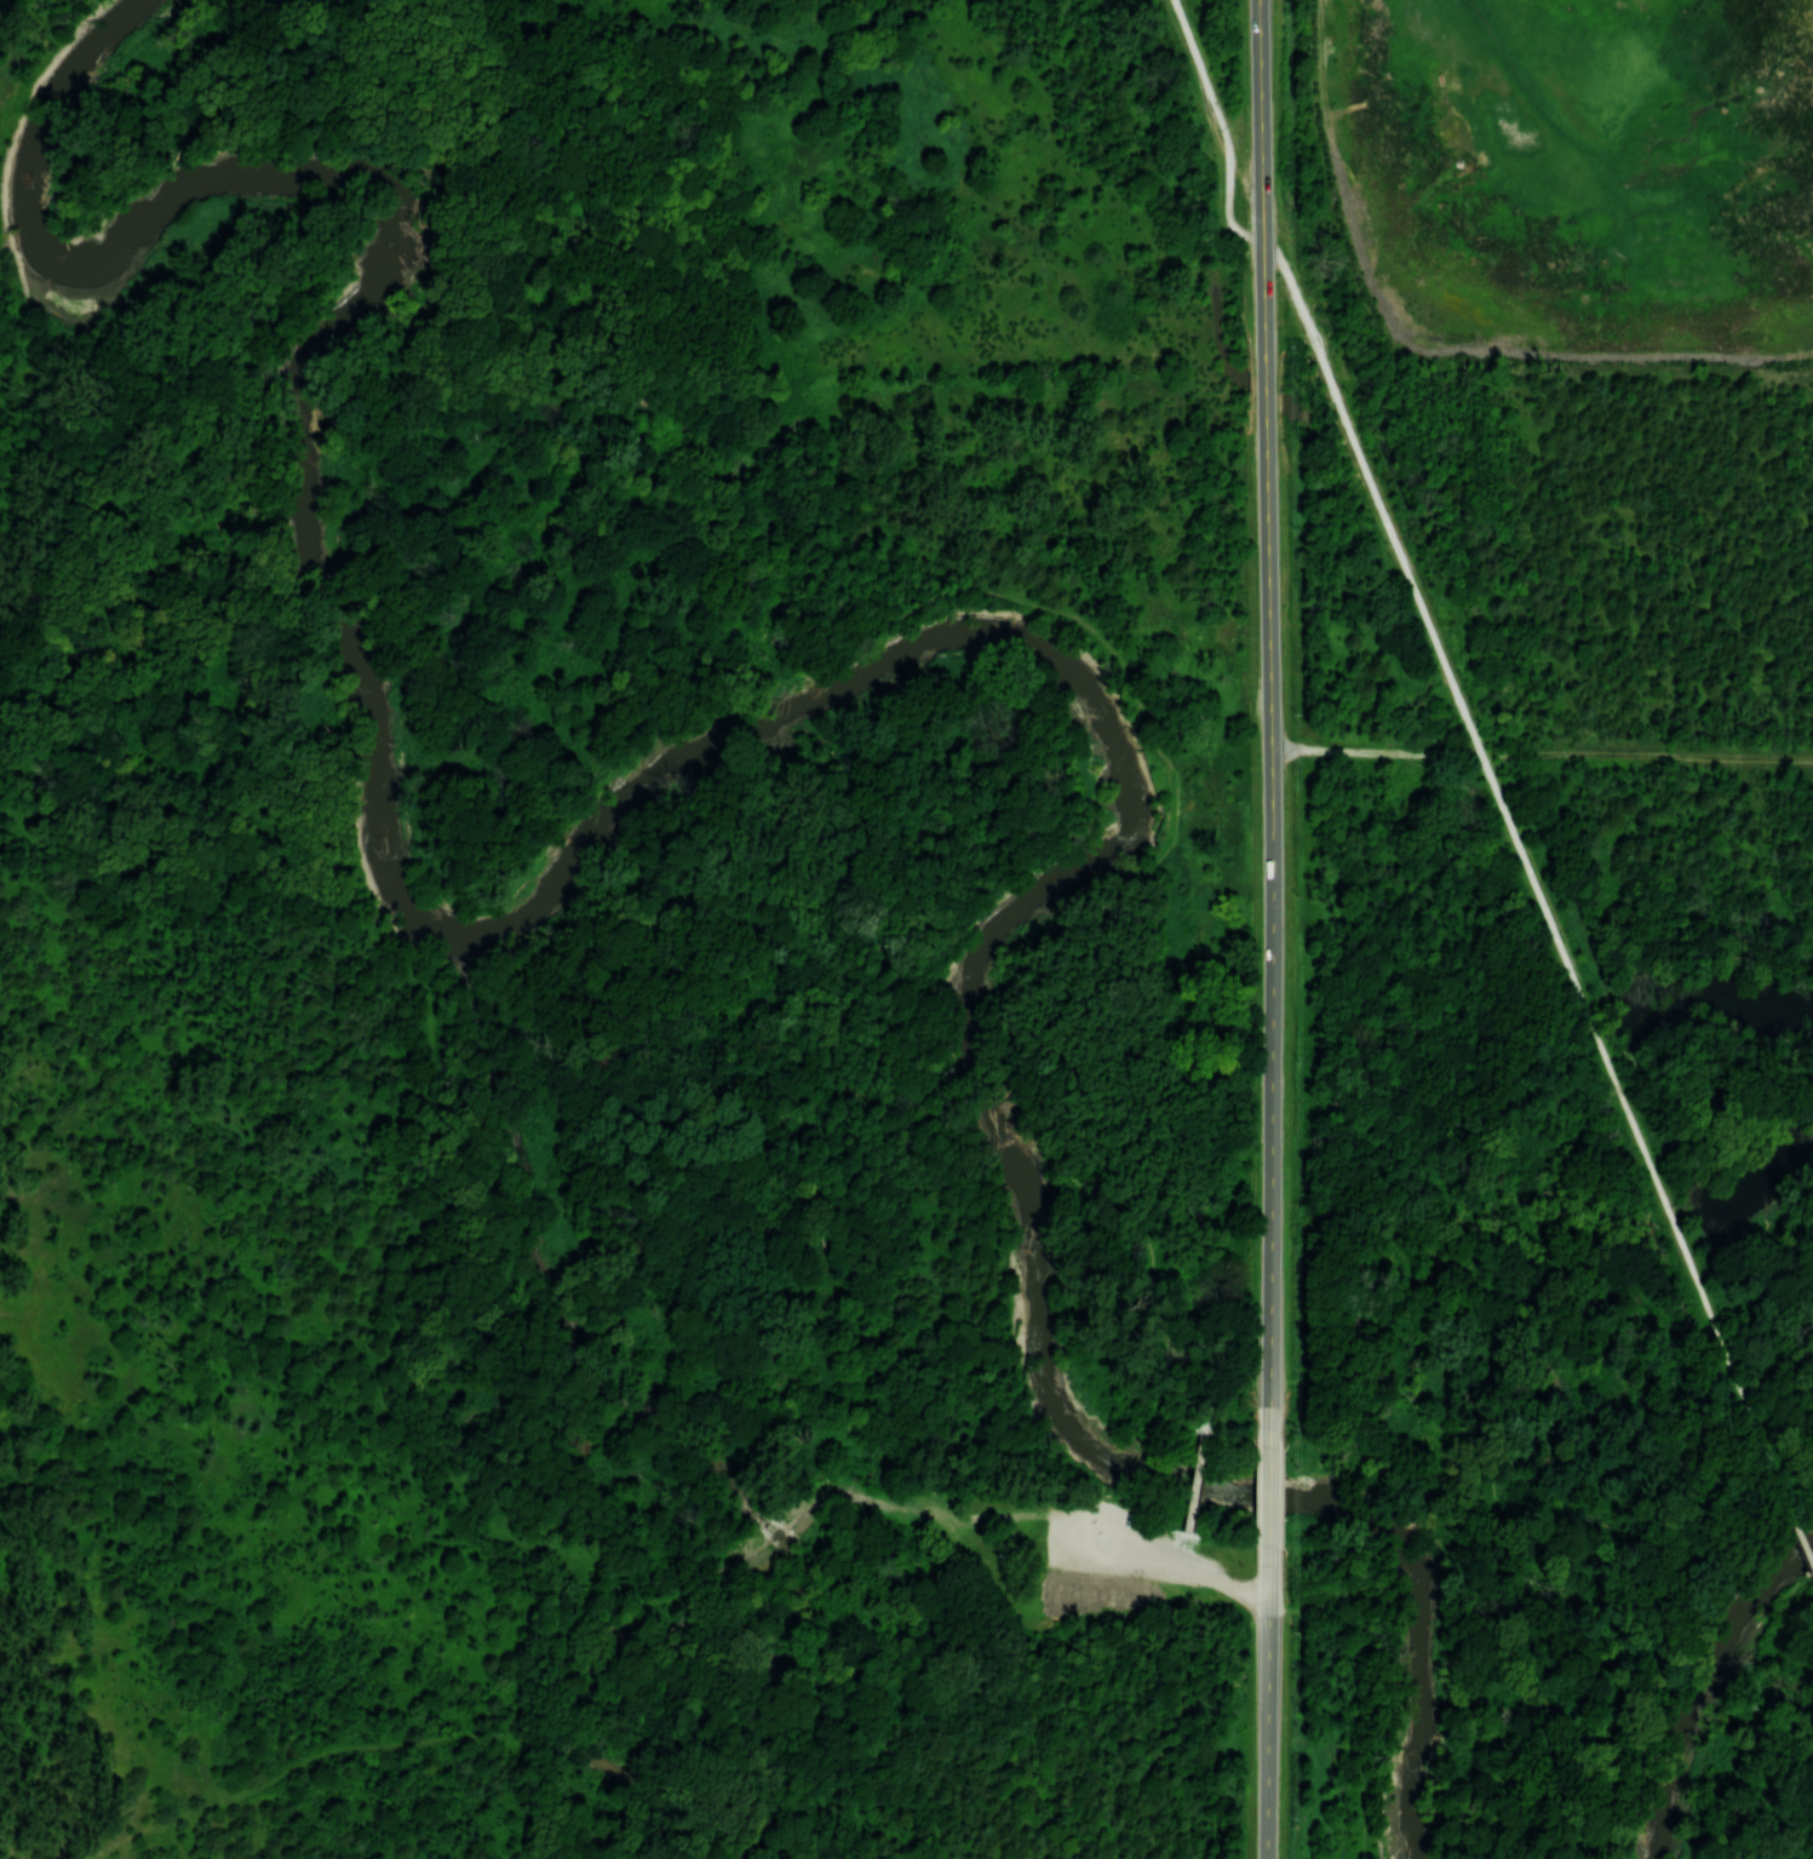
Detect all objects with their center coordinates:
road: (1223, 126)
park: (1568, 165)
river: (405, 249)
road: (929, 593)
road: (1269, 723)
road: (1542, 753)
river: (701, 754)
road: (1527, 867)
park: (154, 1095)
river: (1040, 1292)
road: (1192, 1482)
road: (1268, 1496)
road: (793, 1519)
road: (924, 1524)
road: (1798, 1531)
parking lot: (1115, 1542)
road: (1180, 1545)
road: (738, 1554)
road: (1161, 1555)
road: (585, 1629)
river: (1703, 1687)
road: (1361, 1694)
road: (1268, 1703)
road: (1169, 1714)
road: (291, 1766)
road: (560, 1783)
road: (11, 1848)

